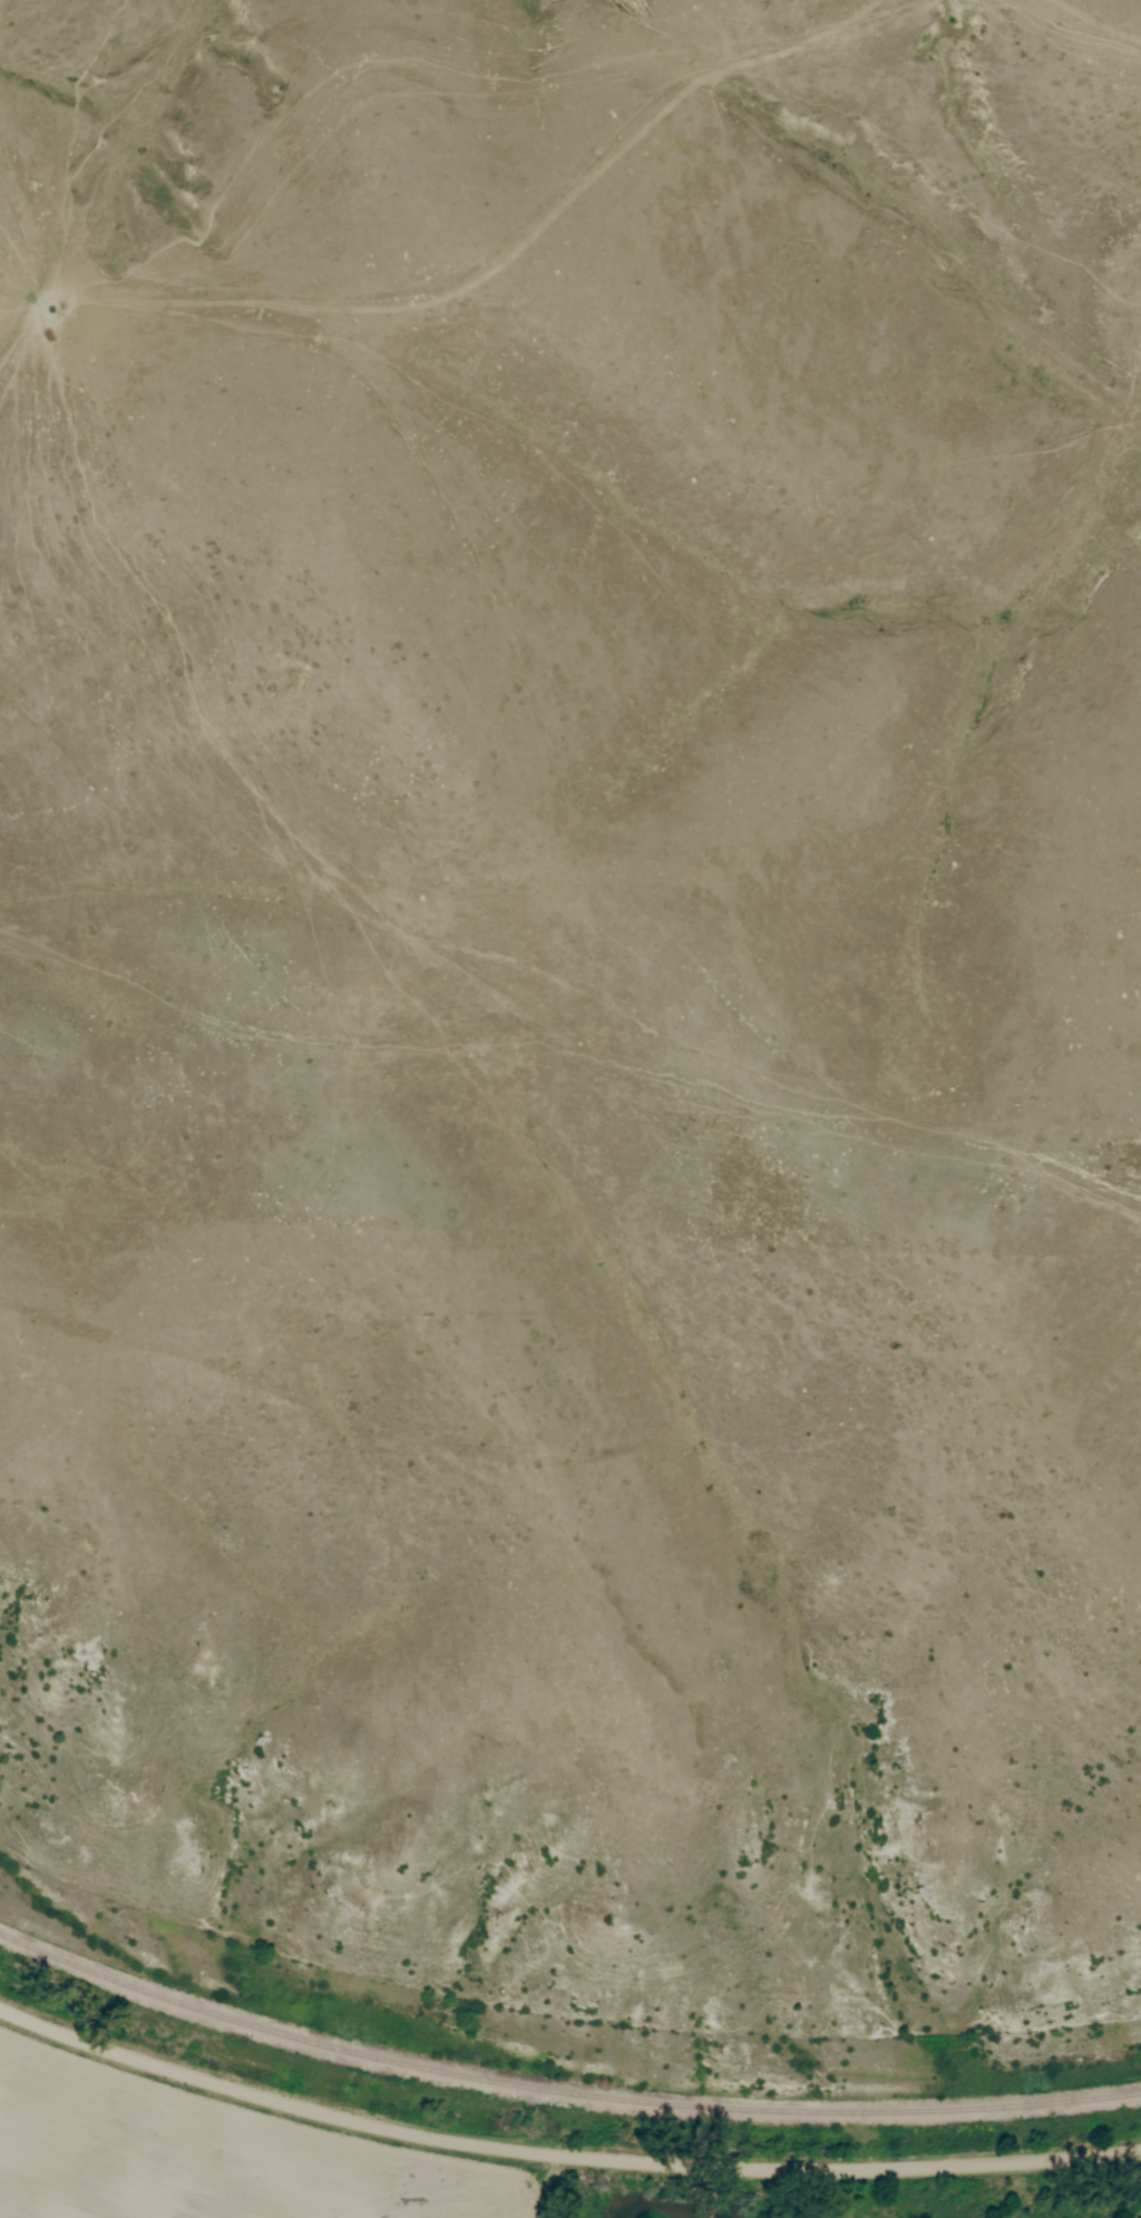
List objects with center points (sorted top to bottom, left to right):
railway: (559, 2092)
road: (560, 2159)

